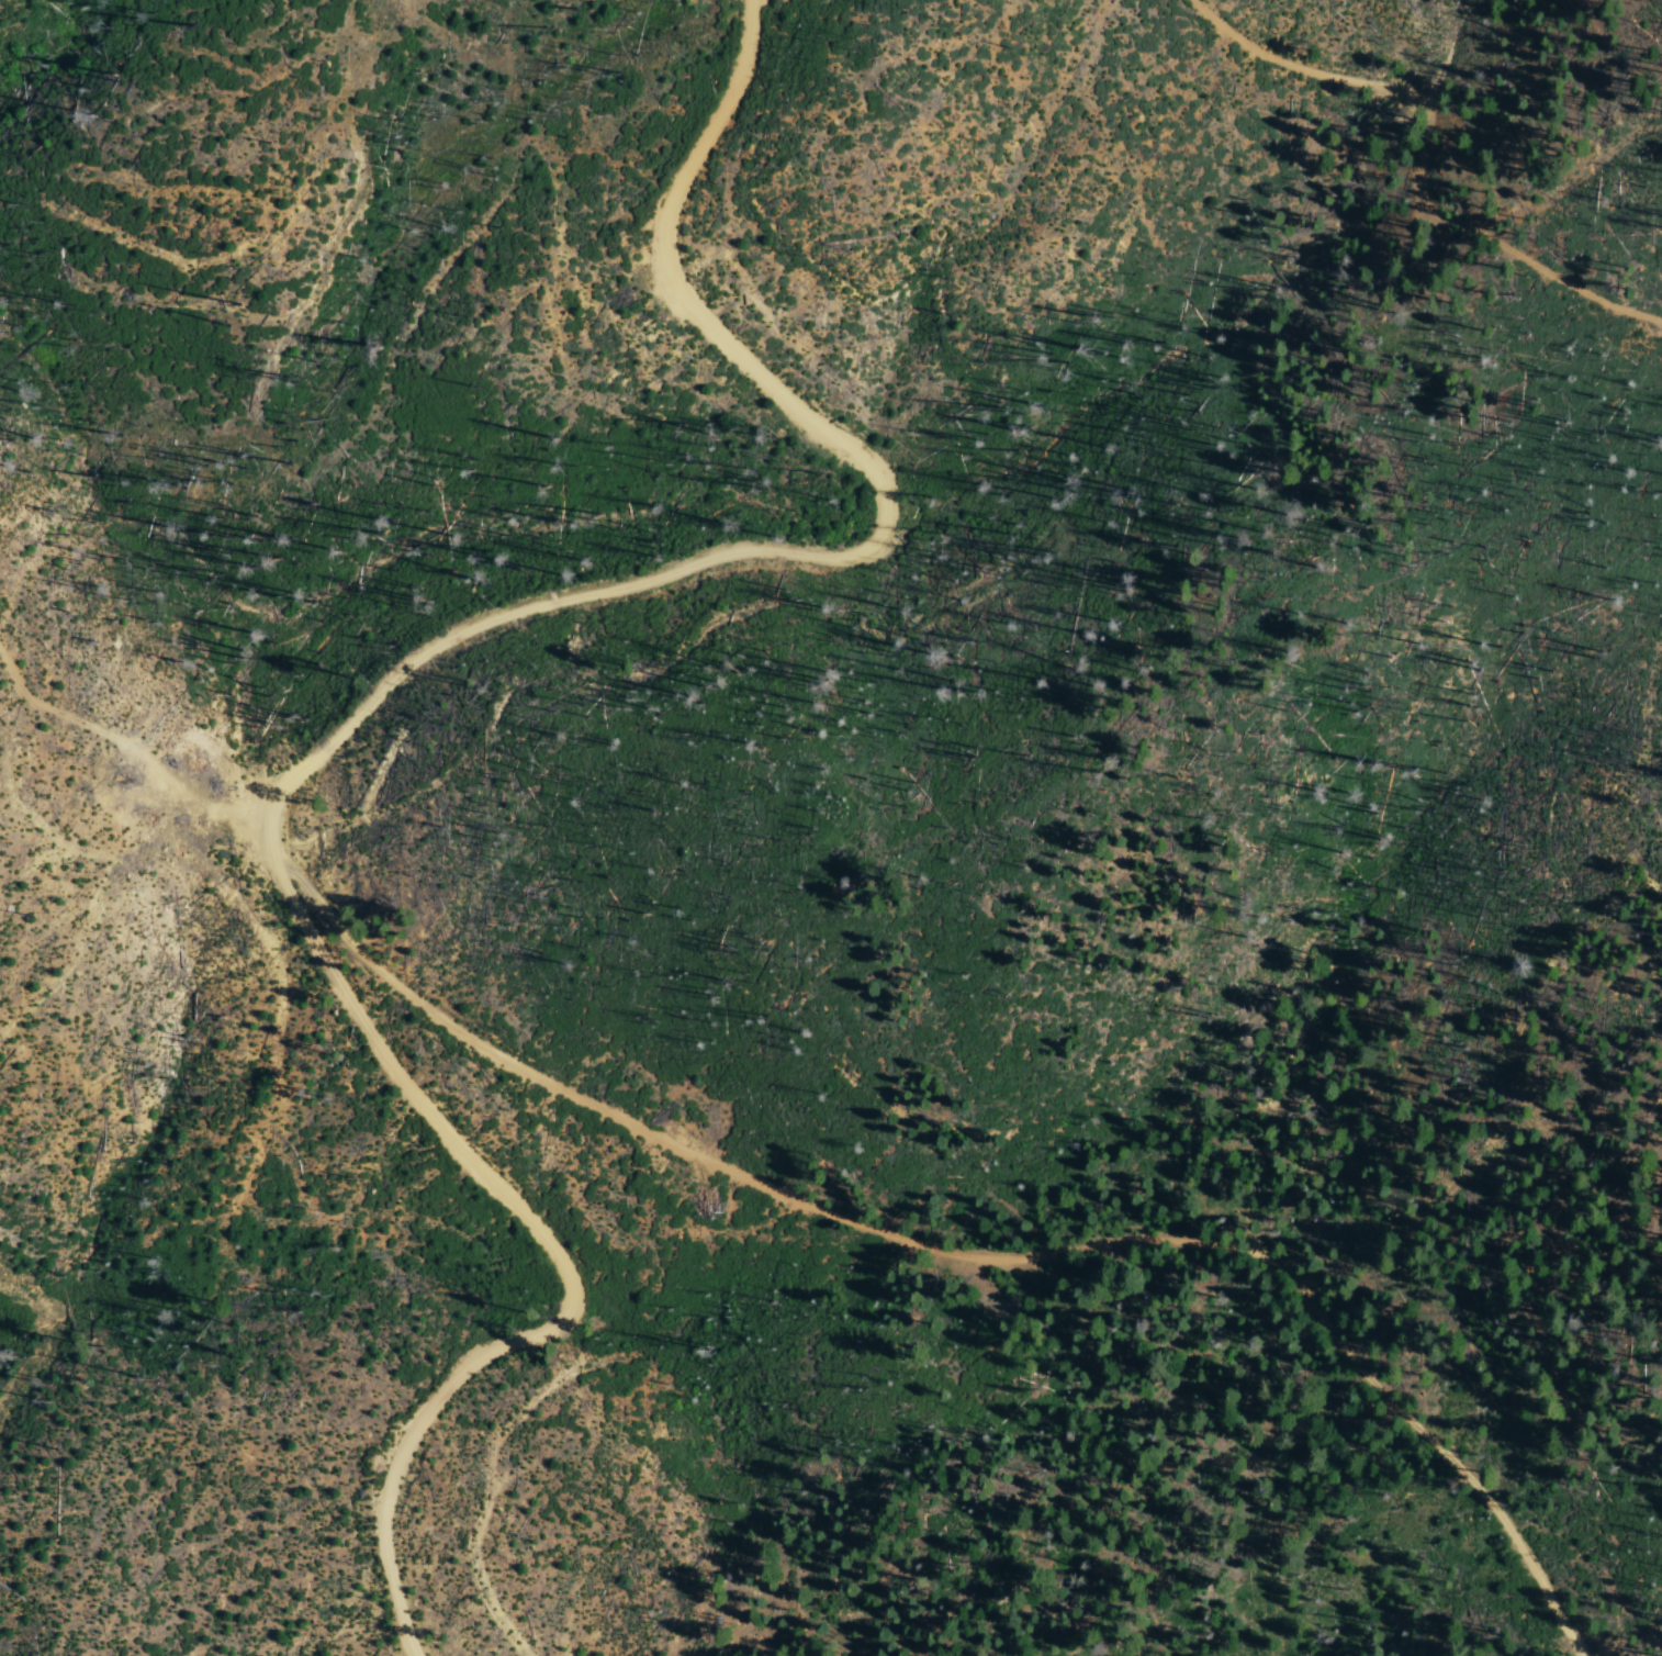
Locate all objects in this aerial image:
road: (1429, 155)
road: (831, 556)
road: (119, 751)
road: (1001, 1260)
road: (563, 1264)

